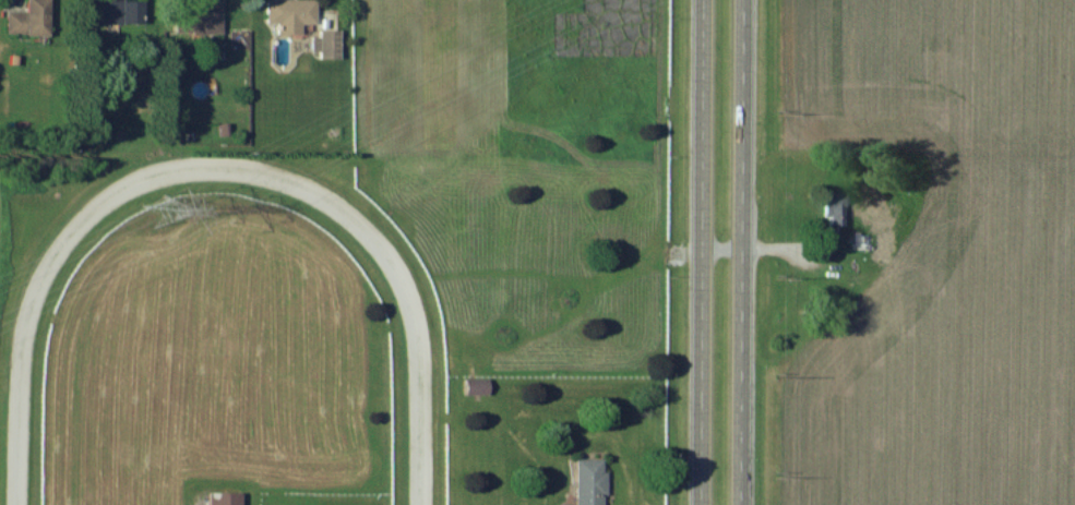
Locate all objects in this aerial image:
building: (115, 12)
building: (288, 14)
building: (196, 17)
building: (27, 20)
building: (326, 45)
building: (832, 207)
power tower: (157, 213)
road: (701, 252)
road: (741, 252)
crop: (925, 253)
building: (475, 387)
building: (588, 482)
building: (223, 498)

